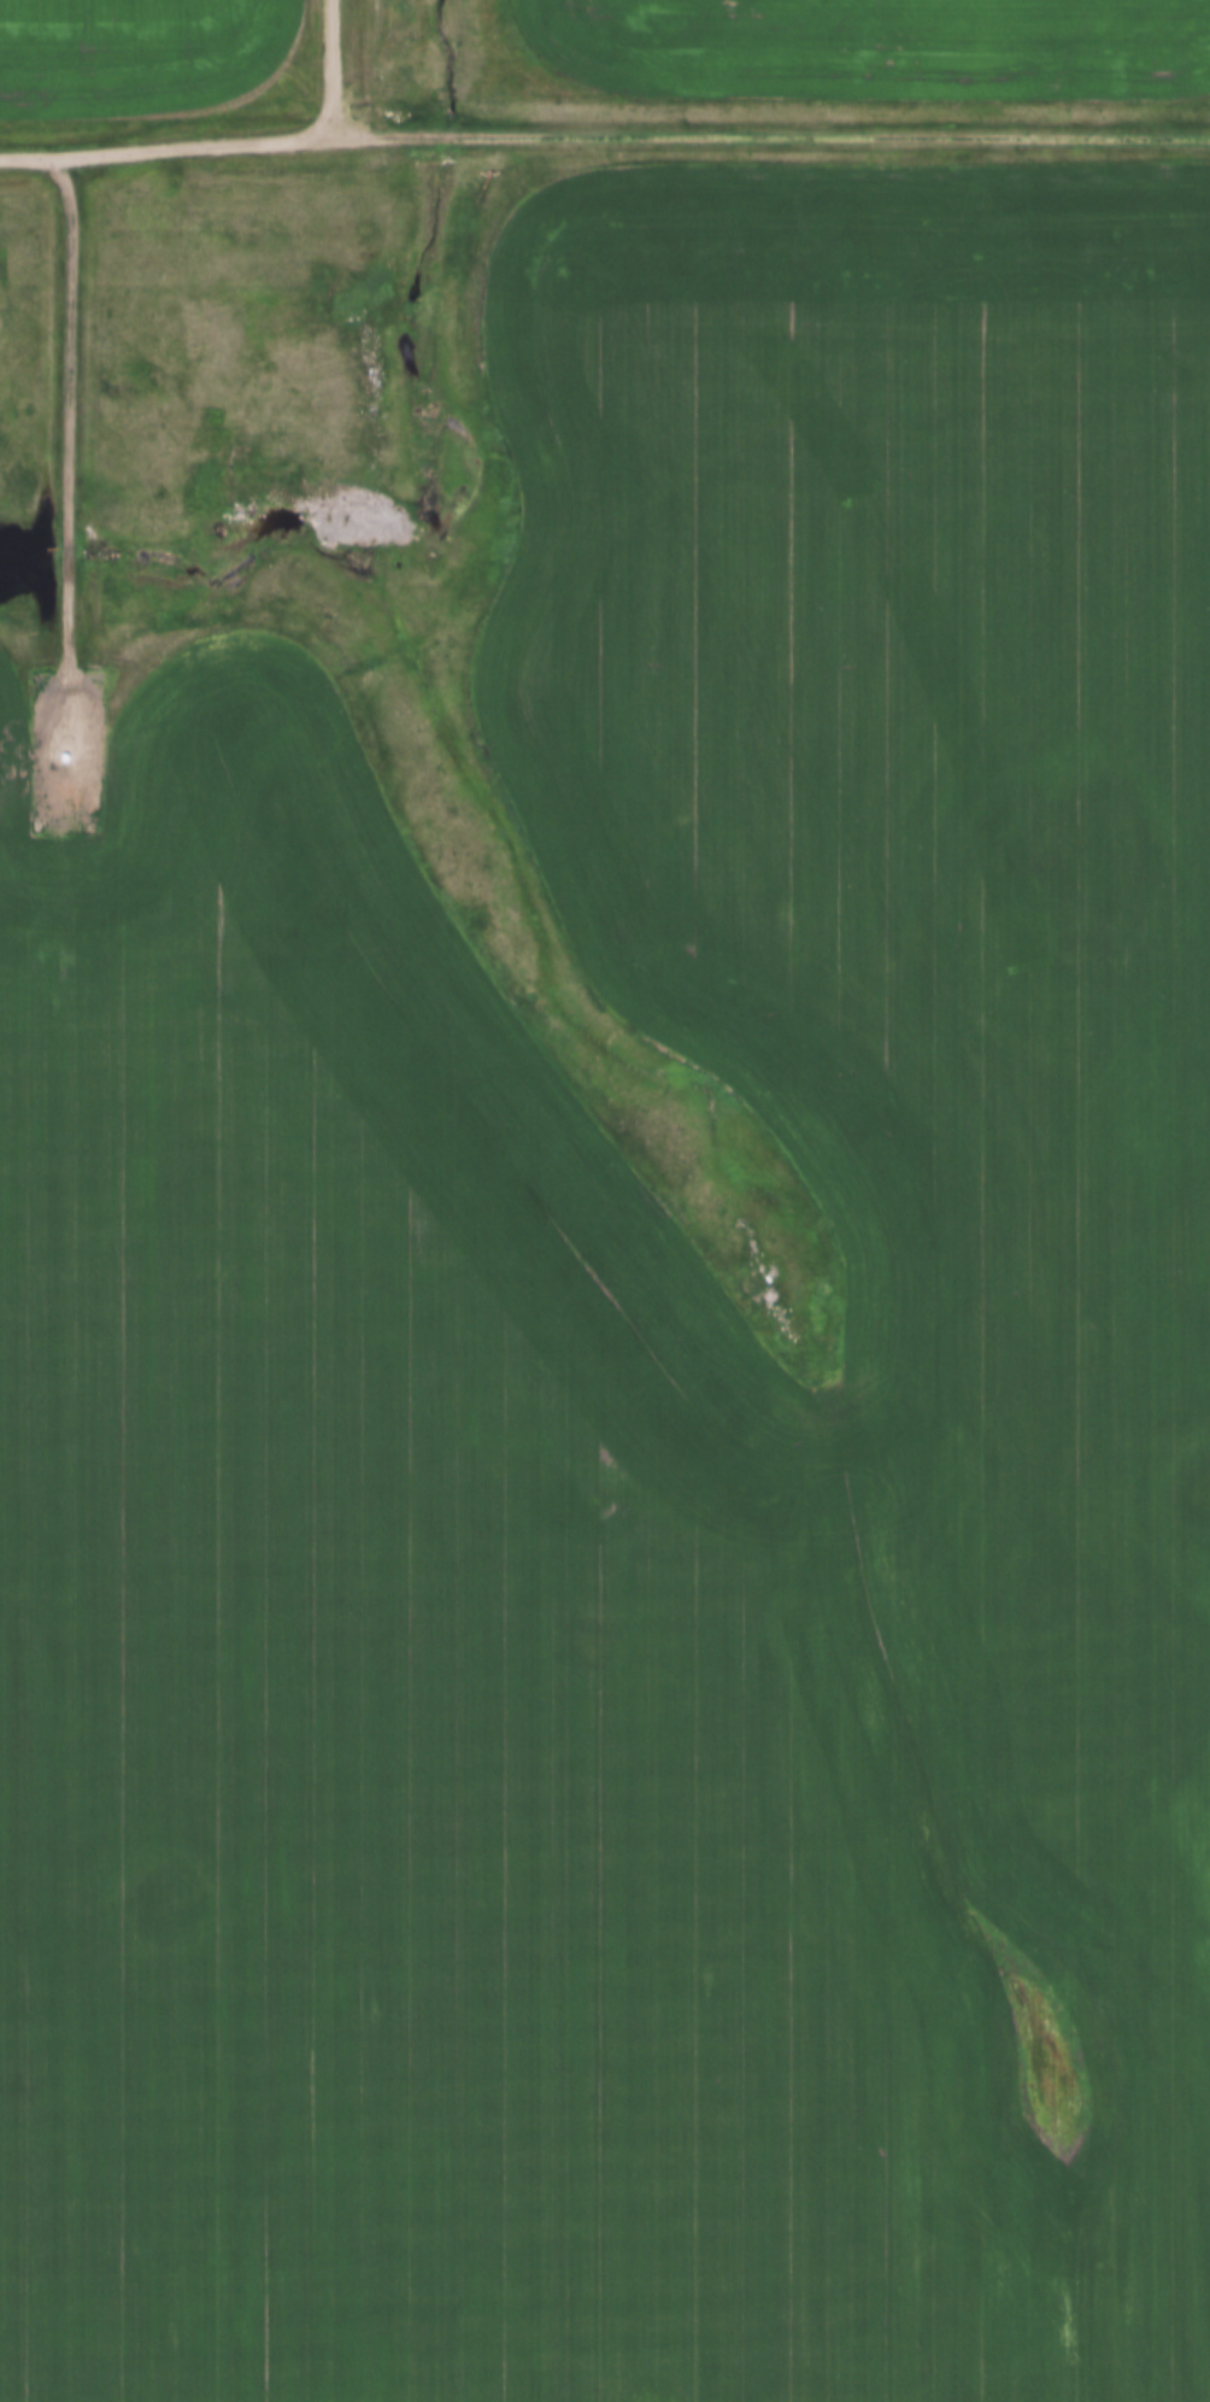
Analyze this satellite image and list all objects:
road: (763, 128)
road: (158, 137)
road: (69, 422)

